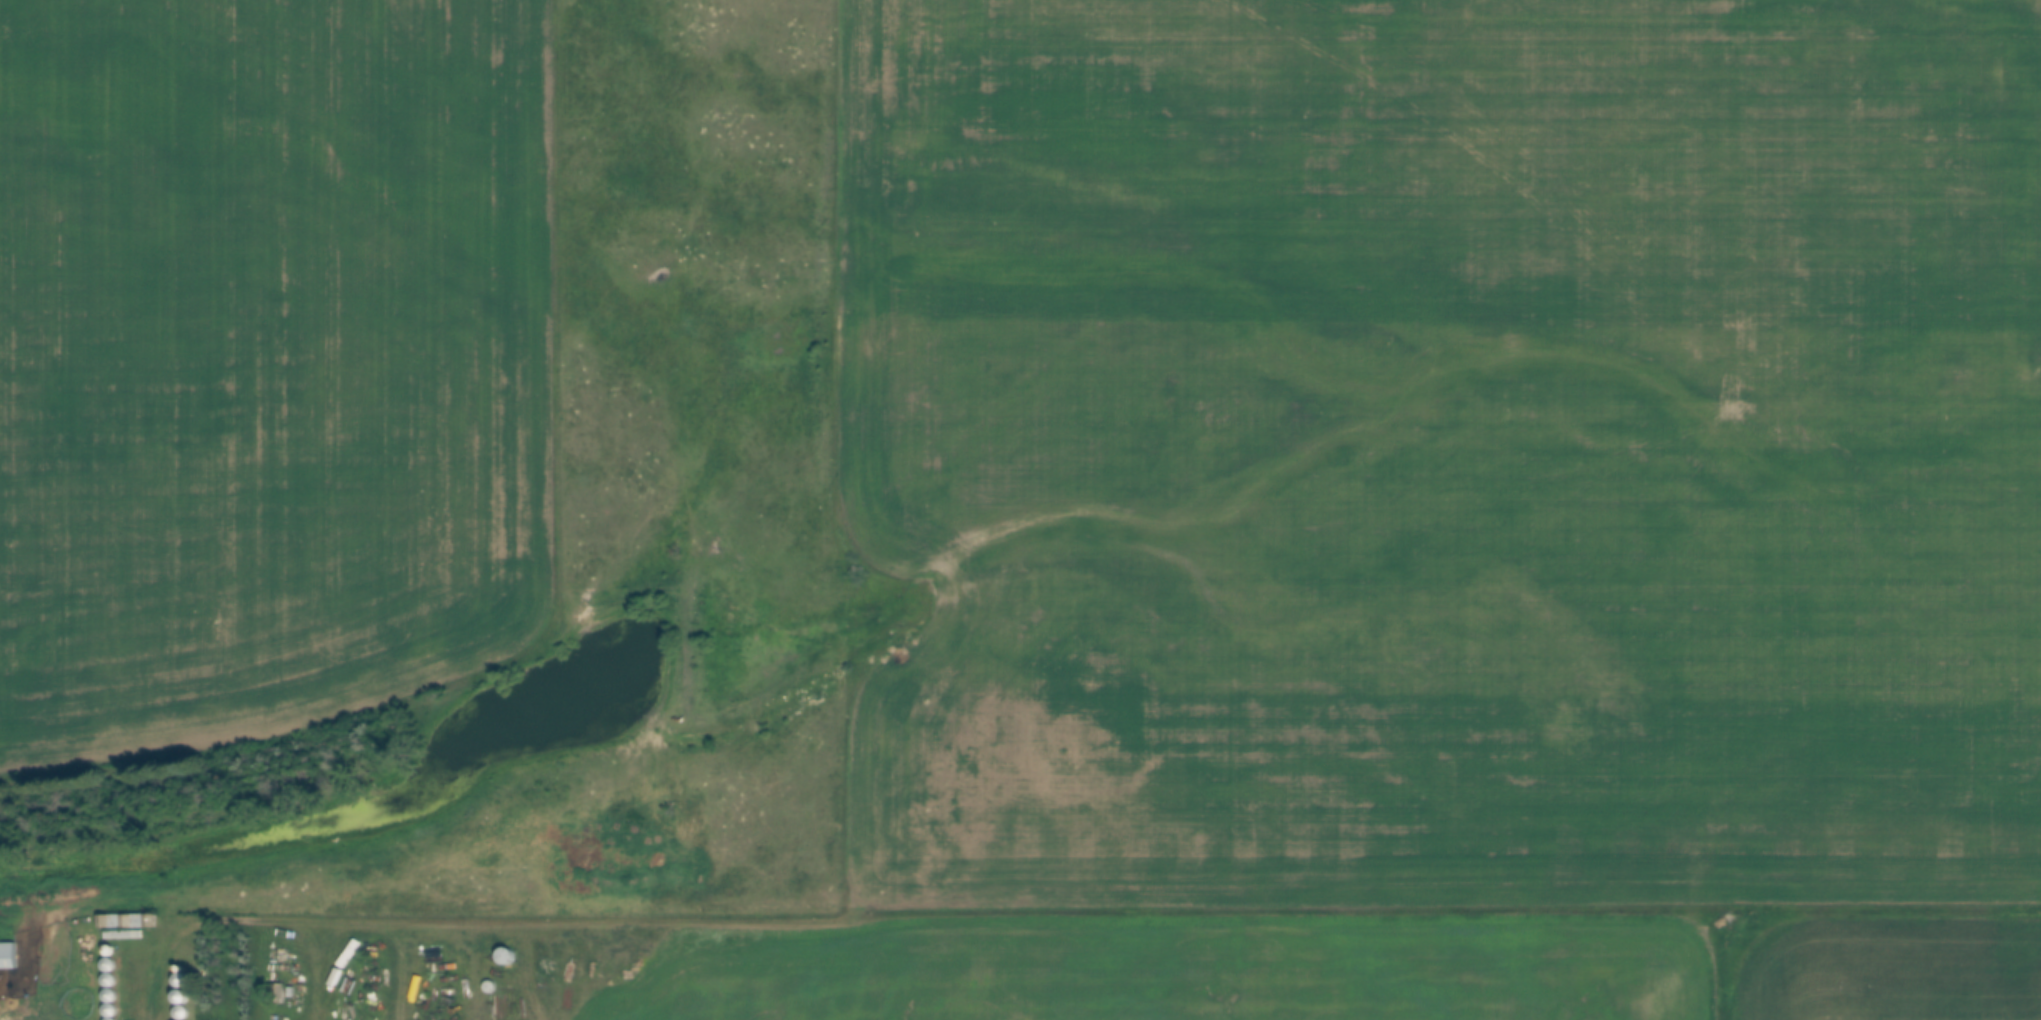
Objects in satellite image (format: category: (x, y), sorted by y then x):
building: (128, 921)
building: (122, 935)
building: (506, 956)
building: (180, 998)

